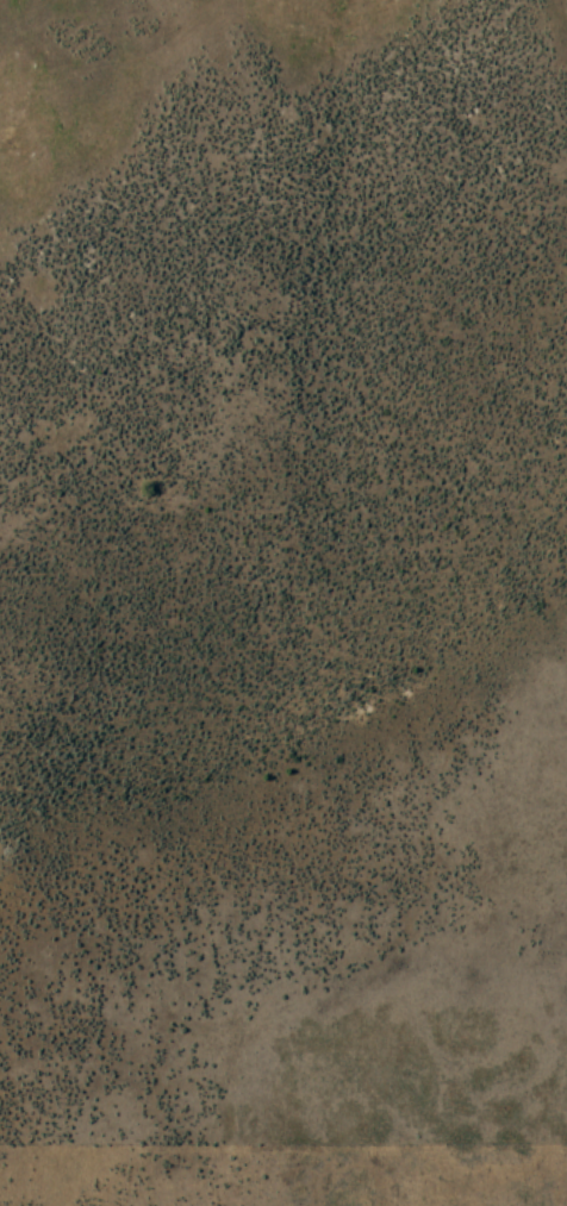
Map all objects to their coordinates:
road: (283, 1157)

